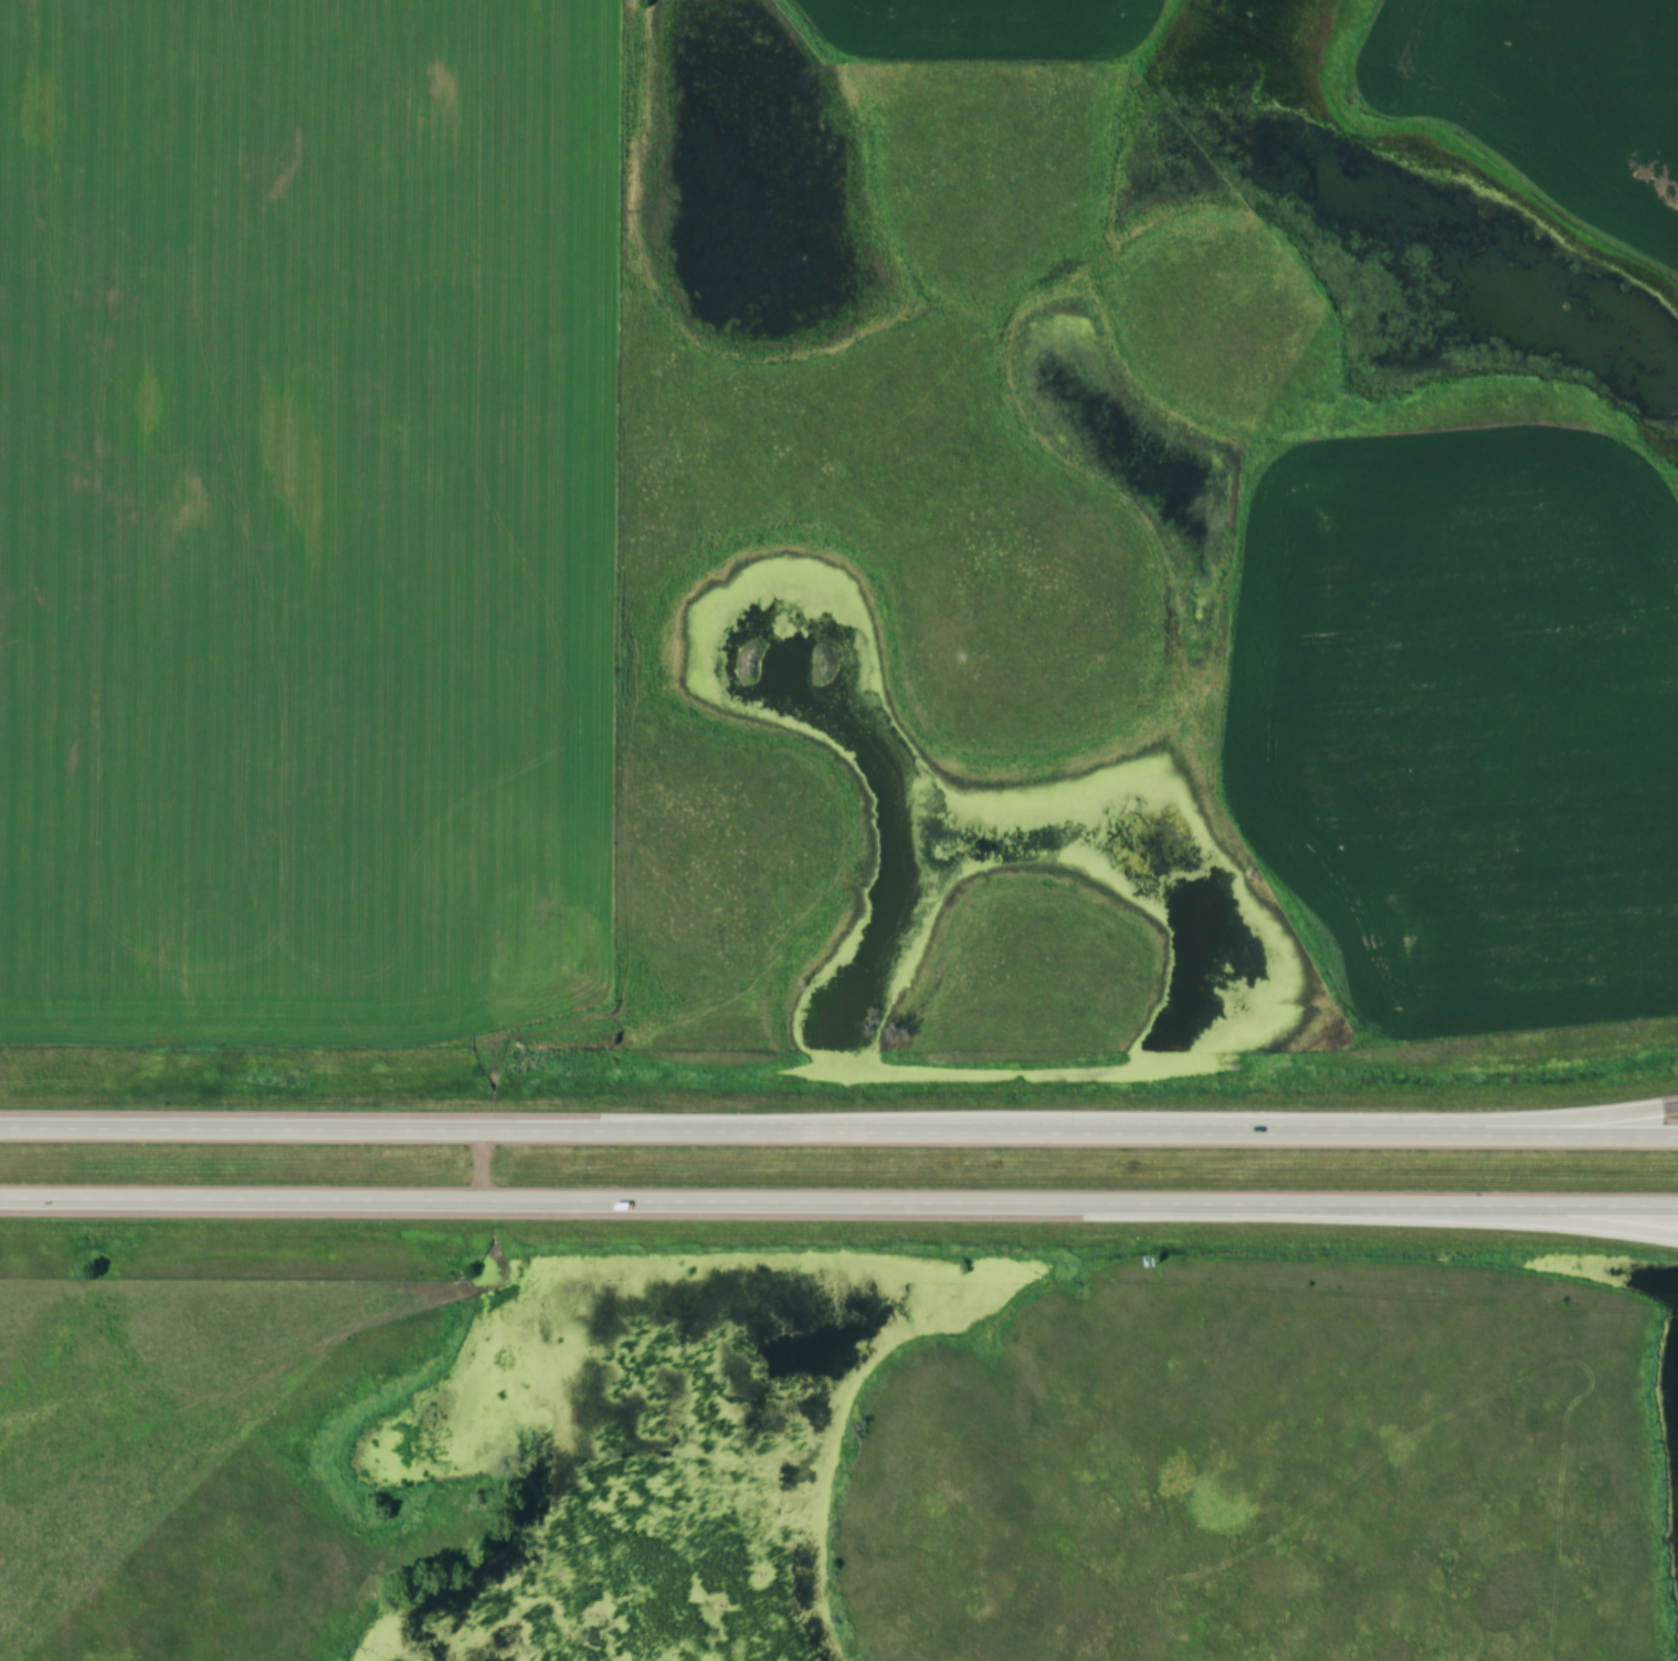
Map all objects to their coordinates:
road: (1499, 1117)
road: (838, 1129)
road: (838, 1202)
road: (1544, 1220)

